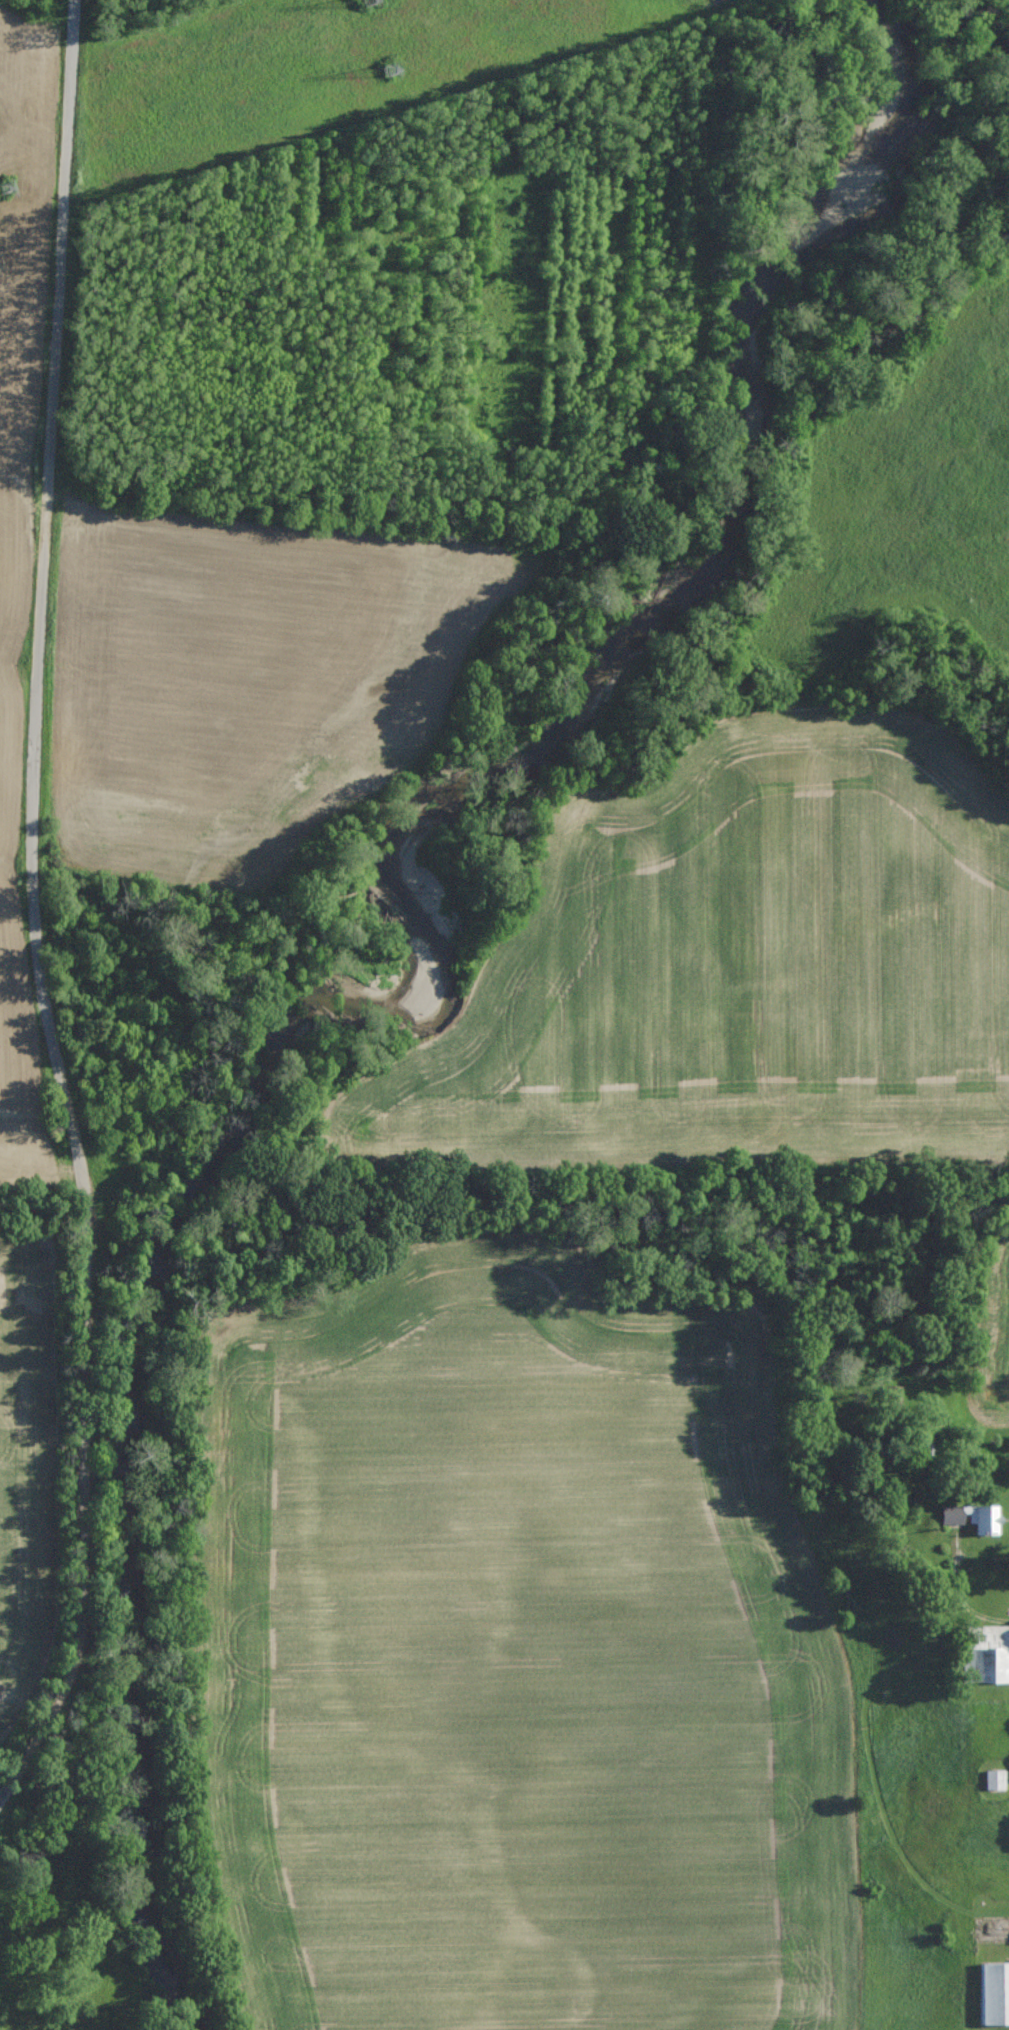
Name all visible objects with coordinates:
power tower: (368, 1)
power tower: (394, 69)
power tower: (1, 189)
road: (33, 911)
river: (436, 960)
crop: (23, 1461)
building: (973, 1517)
building: (986, 1654)
building: (995, 1779)
building: (995, 1993)

